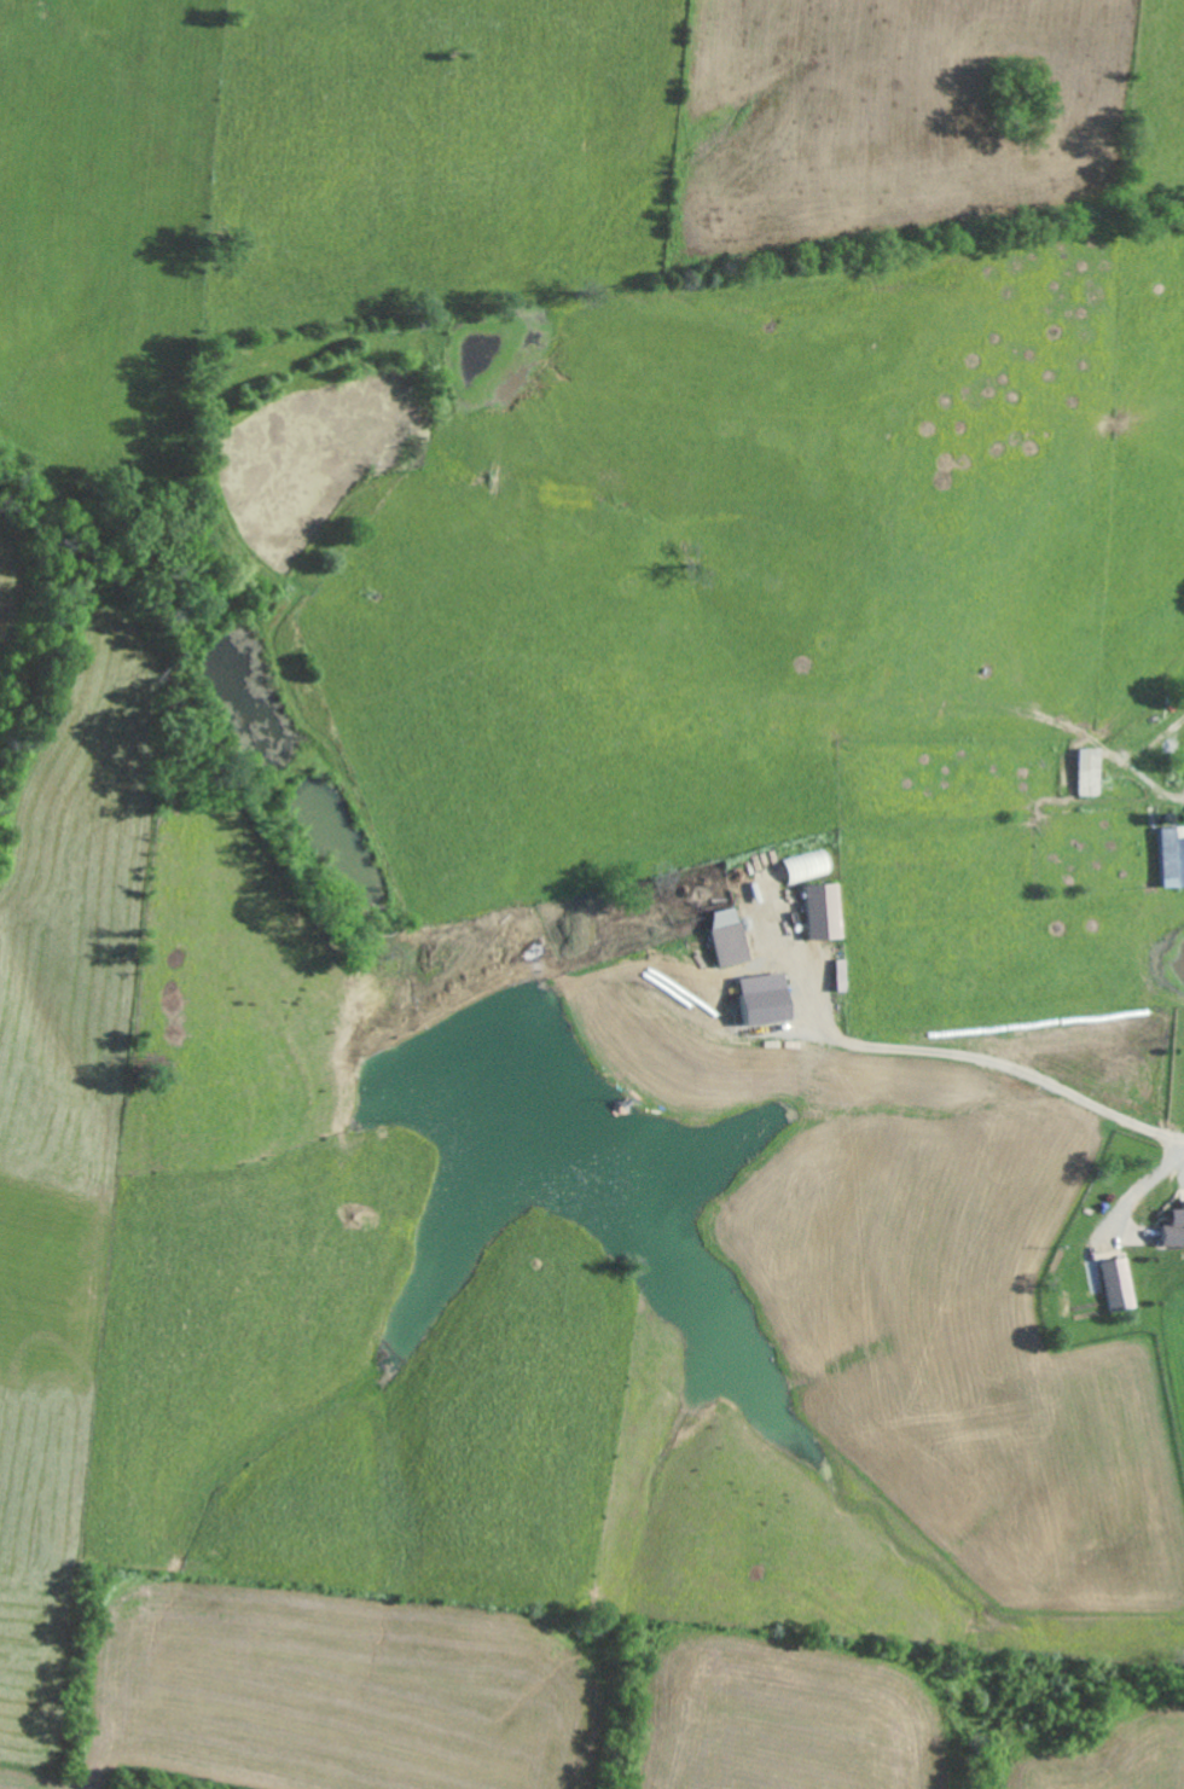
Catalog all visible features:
building: (1093, 771)
building: (1174, 856)
building: (811, 864)
building: (826, 911)
building: (731, 936)
building: (767, 999)
road: (993, 1057)
building: (1176, 1231)
building: (1121, 1284)

